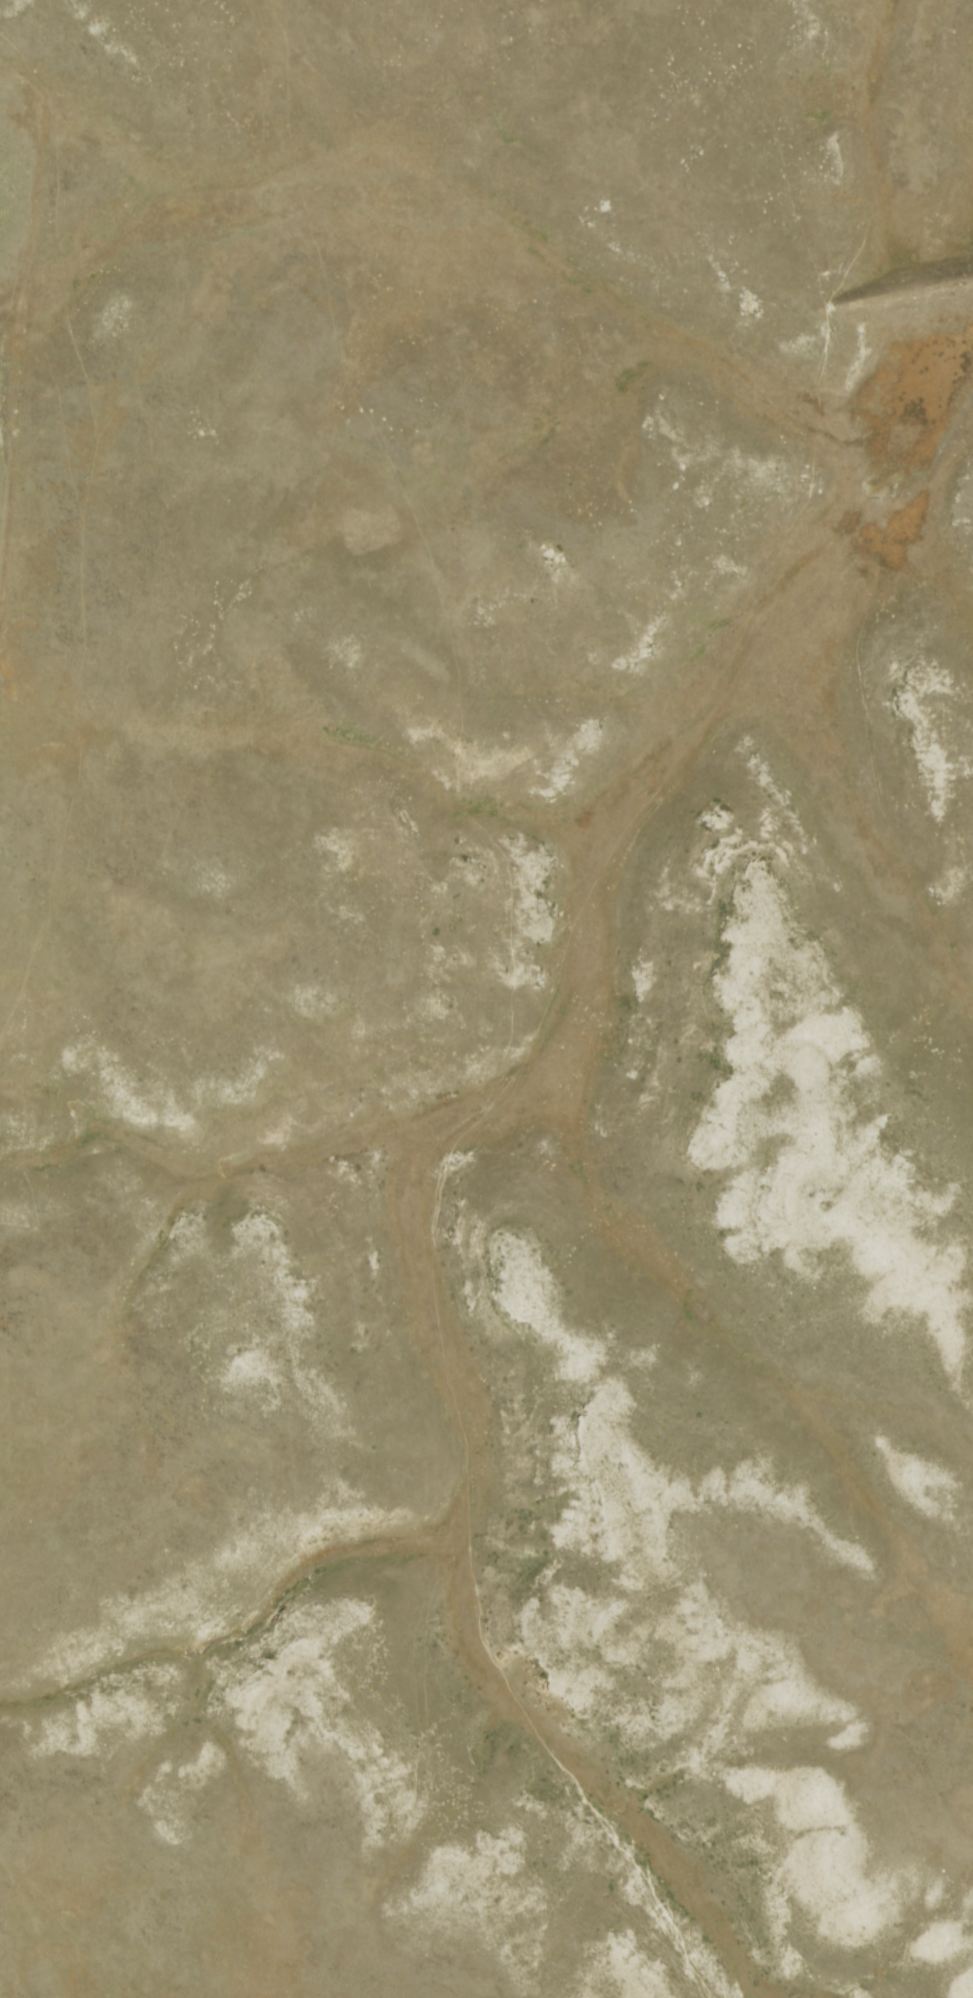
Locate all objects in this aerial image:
dam: (915, 296)

